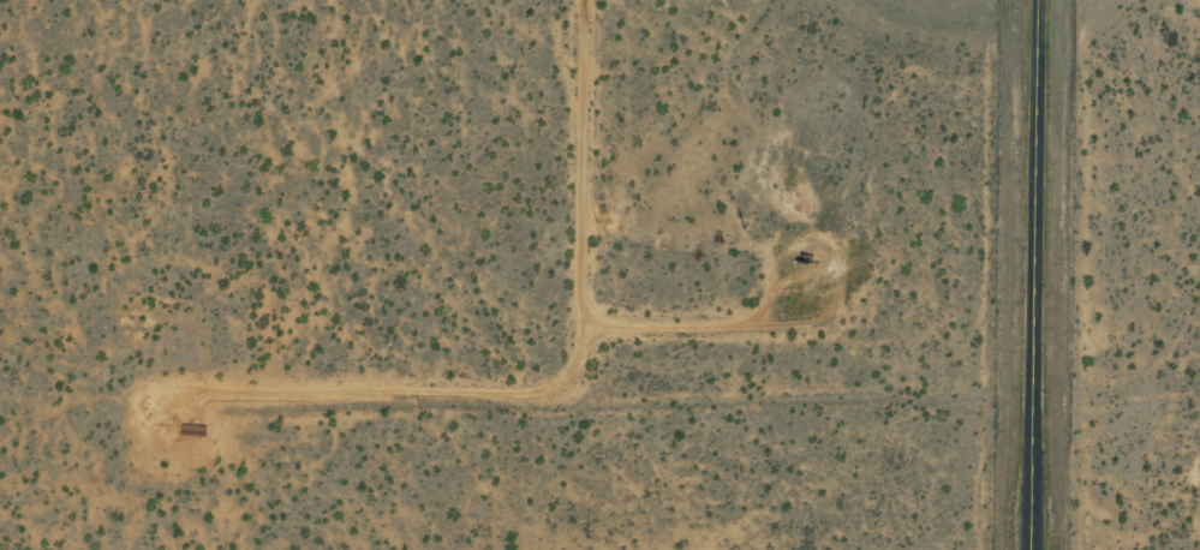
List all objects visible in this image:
road: (1034, 275)
road: (105, 438)

